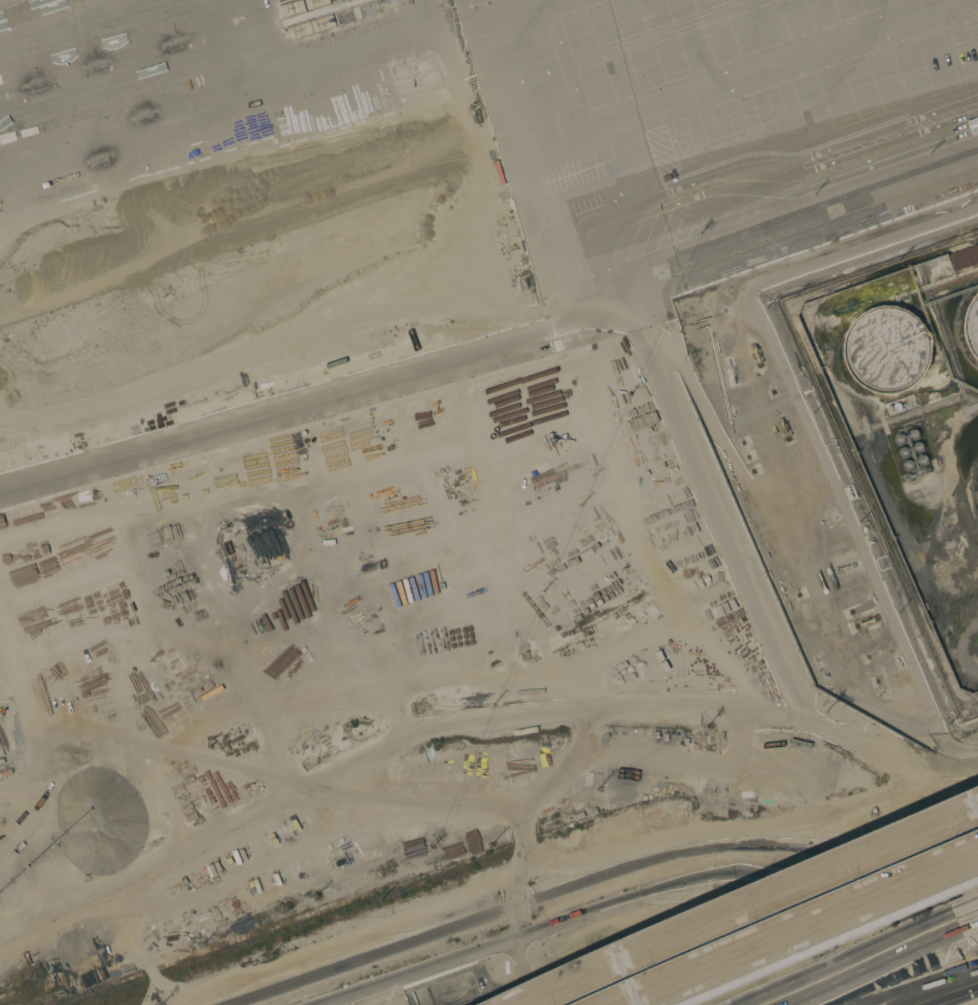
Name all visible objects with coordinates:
building: (971, 326)
storage tank: (971, 326)
petroleum well: (753, 350)
building: (886, 350)
storage tank: (886, 350)
petroleum well: (781, 422)
power plant: (906, 432)
petroleum well: (870, 619)
building: (293, 870)
railway: (598, 878)
road: (748, 903)
road: (806, 925)
road: (940, 990)
road: (626, 1002)
road: (628, 1002)

